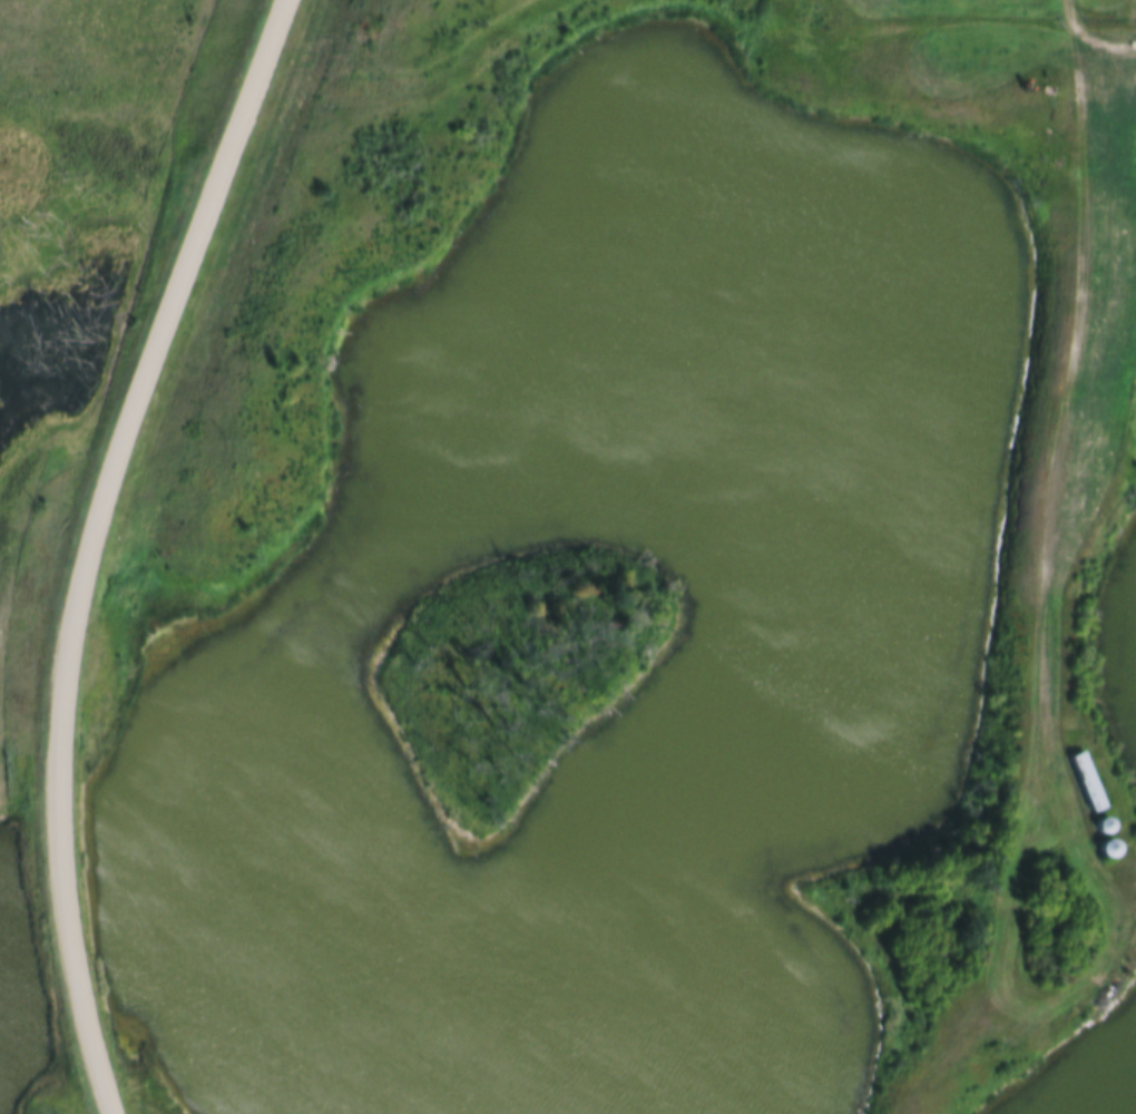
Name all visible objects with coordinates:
road: (1091, 39)
road: (89, 543)
building: (1073, 772)
building: (1088, 781)
building: (1087, 818)
building: (1094, 840)

